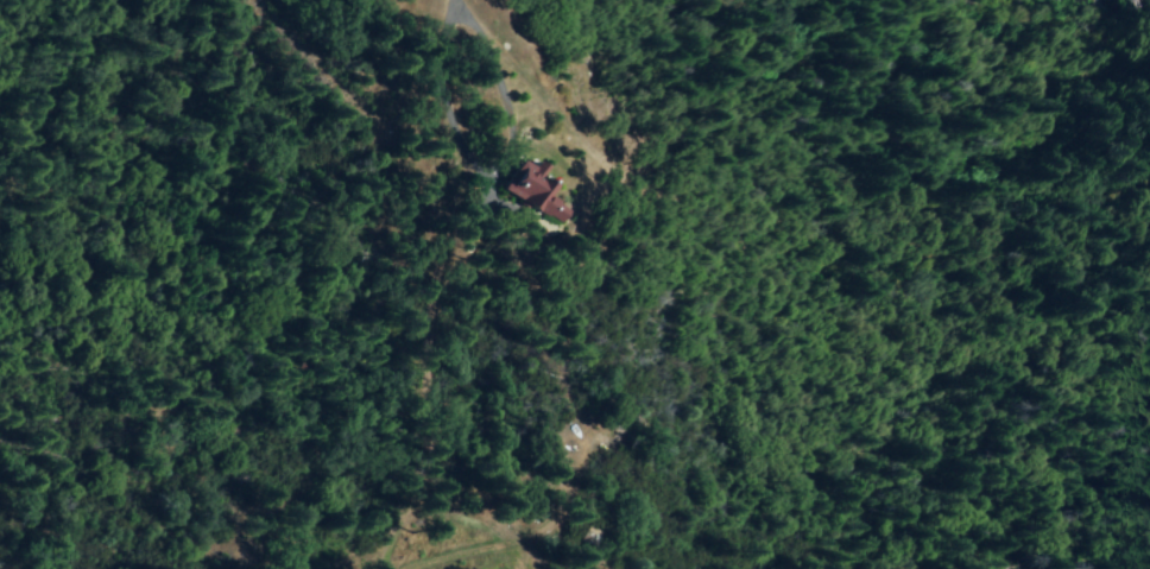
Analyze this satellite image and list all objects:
building: (531, 190)

